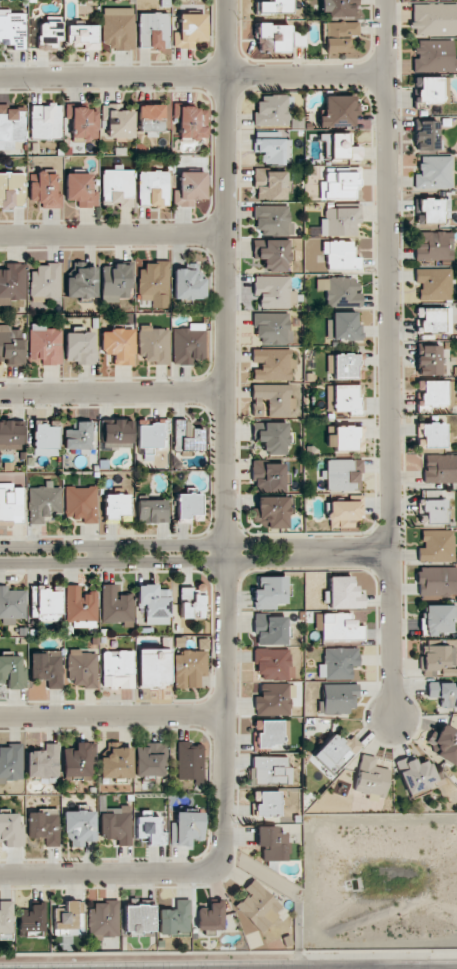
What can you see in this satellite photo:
building: (273, 7)
building: (339, 7)
building: (434, 19)
building: (118, 28)
building: (12, 29)
building: (153, 30)
building: (190, 30)
building: (49, 32)
building: (82, 36)
building: (339, 36)
building: (272, 38)
building: (434, 56)
road: (194, 76)
building: (428, 90)
building: (272, 110)
building: (339, 111)
building: (151, 117)
building: (45, 121)
building: (119, 122)
building: (192, 122)
building: (84, 123)
building: (11, 127)
building: (427, 136)
building: (272, 147)
building: (342, 148)
building: (434, 172)
building: (338, 183)
building: (270, 184)
building: (153, 187)
building: (117, 188)
building: (11, 189)
building: (81, 189)
building: (189, 189)
building: (45, 191)
building: (435, 210)
building: (272, 219)
building: (340, 221)
road: (112, 234)
building: (434, 245)
building: (271, 255)
building: (340, 255)
building: (45, 280)
building: (81, 280)
building: (117, 282)
building: (12, 283)
building: (189, 283)
building: (434, 283)
building: (154, 284)
building: (339, 291)
building: (274, 292)
building: (429, 319)
building: (343, 326)
building: (272, 327)
building: (189, 344)
building: (11, 345)
building: (44, 345)
building: (118, 345)
building: (153, 345)
building: (80, 347)
road: (391, 358)
building: (429, 360)
building: (273, 364)
building: (344, 366)
road: (113, 392)
building: (431, 393)
building: (347, 398)
building: (271, 400)
building: (11, 434)
building: (117, 435)
building: (431, 435)
building: (79, 436)
building: (153, 436)
building: (187, 437)
building: (45, 438)
building: (345, 438)
building: (439, 468)
building: (343, 474)
building: (268, 476)
building: (43, 503)
building: (81, 503)
building: (10, 504)
building: (117, 508)
building: (188, 508)
building: (434, 510)
building: (151, 511)
building: (272, 512)
building: (345, 513)
road: (226, 543)
road: (160, 545)
building: (437, 546)
road: (339, 551)
road: (101, 553)
road: (142, 559)
building: (437, 581)
building: (270, 592)
building: (344, 593)
building: (45, 602)
building: (192, 602)
building: (154, 603)
building: (12, 605)
building: (81, 605)
building: (116, 606)
building: (438, 619)
building: (338, 627)
building: (270, 629)
building: (438, 656)
building: (273, 663)
building: (338, 663)
building: (47, 668)
building: (83, 668)
building: (154, 668)
building: (189, 668)
building: (118, 669)
building: (13, 672)
building: (443, 694)
building: (274, 698)
building: (338, 698)
road: (113, 716)
building: (269, 733)
building: (445, 744)
building: (336, 752)
building: (150, 760)
building: (189, 760)
building: (43, 761)
building: (11, 762)
building: (79, 762)
building: (116, 764)
building: (270, 770)
building: (416, 774)
building: (371, 778)
building: (266, 804)
building: (117, 825)
building: (44, 826)
building: (79, 826)
building: (149, 828)
building: (186, 828)
building: (11, 830)
building: (271, 843)
building: (256, 908)
building: (6, 916)
building: (211, 917)
building: (68, 918)
building: (175, 918)
building: (32, 919)
building: (103, 920)
building: (138, 920)
road: (345, 968)
road: (400, 968)
road: (428, 968)

